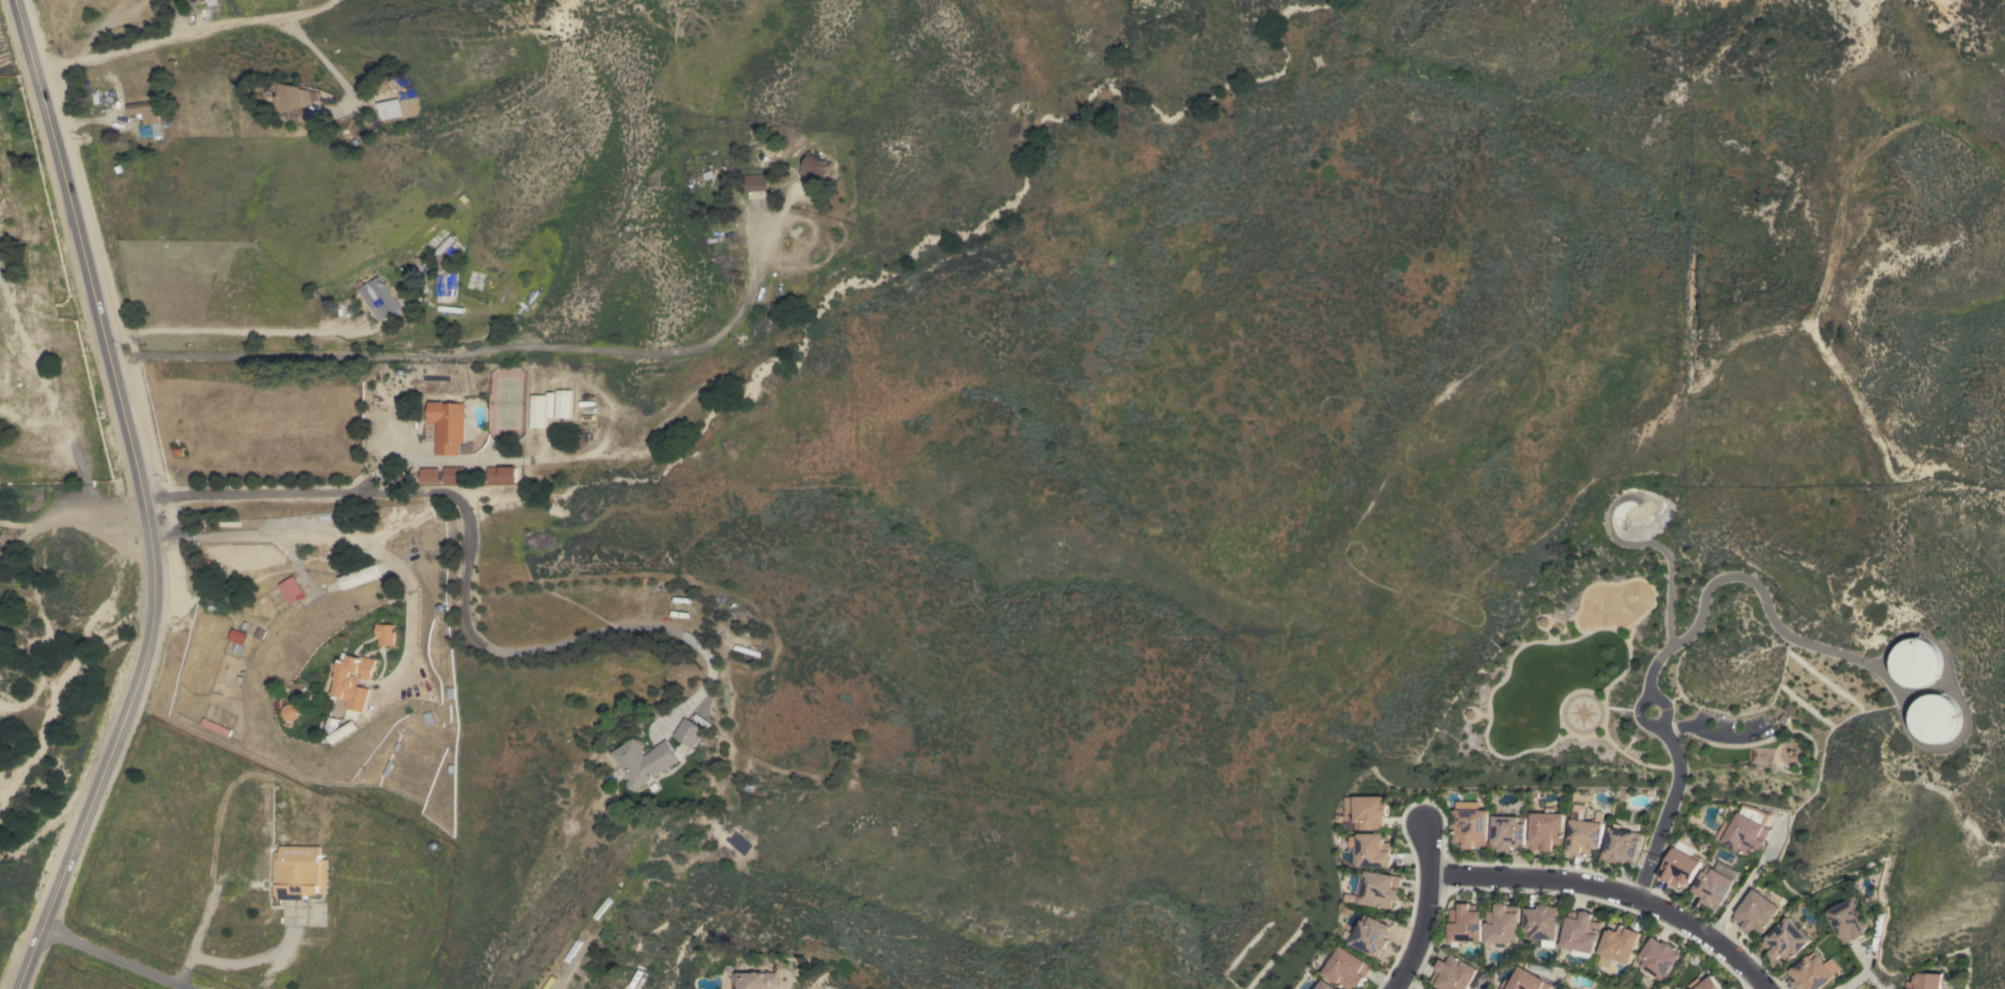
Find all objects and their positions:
building: (194, 3)
road: (212, 29)
building: (296, 96)
building: (18, 107)
building: (387, 109)
building: (142, 112)
building: (148, 131)
building: (814, 168)
building: (753, 182)
building: (440, 244)
building: (449, 284)
building: (378, 298)
road: (231, 331)
road: (484, 350)
building: (562, 403)
building: (550, 405)
building: (538, 411)
building: (447, 426)
road: (415, 458)
building: (454, 474)
building: (502, 474)
building: (430, 475)
road: (140, 499)
road: (68, 519)
road: (246, 537)
building: (358, 577)
road: (1738, 580)
building: (291, 590)
road: (414, 593)
building: (385, 633)
building: (238, 639)
road: (511, 651)
building: (1916, 662)
storage tank: (1916, 662)
building: (351, 692)
park: (1639, 694)
road: (1641, 700)
building: (1780, 719)
building: (1935, 719)
storage tank: (1935, 719)
building: (216, 727)
building: (688, 732)
building: (643, 761)
building: (1367, 811)
road: (1664, 813)
building: (1470, 827)
building: (1743, 830)
building: (1545, 831)
building: (1507, 832)
building: (1583, 836)
building: (1621, 845)
building: (1370, 850)
building: (1679, 864)
building: (300, 872)
road: (204, 882)
road: (1744, 885)
building: (1712, 886)
building: (1377, 889)
road: (1608, 895)
road: (1428, 906)
building: (1755, 911)
building: (1848, 919)
building: (1542, 922)
building: (1466, 923)
building: (1503, 924)
building: (1581, 934)
building: (1371, 935)
building: (1785, 941)
building: (1618, 945)
building: (1658, 957)
road: (116, 958)
road: (232, 962)
building: (1347, 968)
building: (1813, 972)
building: (1455, 973)
road: (1862, 974)
building: (754, 980)
building: (1526, 981)
building: (1924, 981)
building: (1708, 984)
building: (1327, 985)
building: (1433, 988)
building: (1578, 988)
building: (1673, 988)

